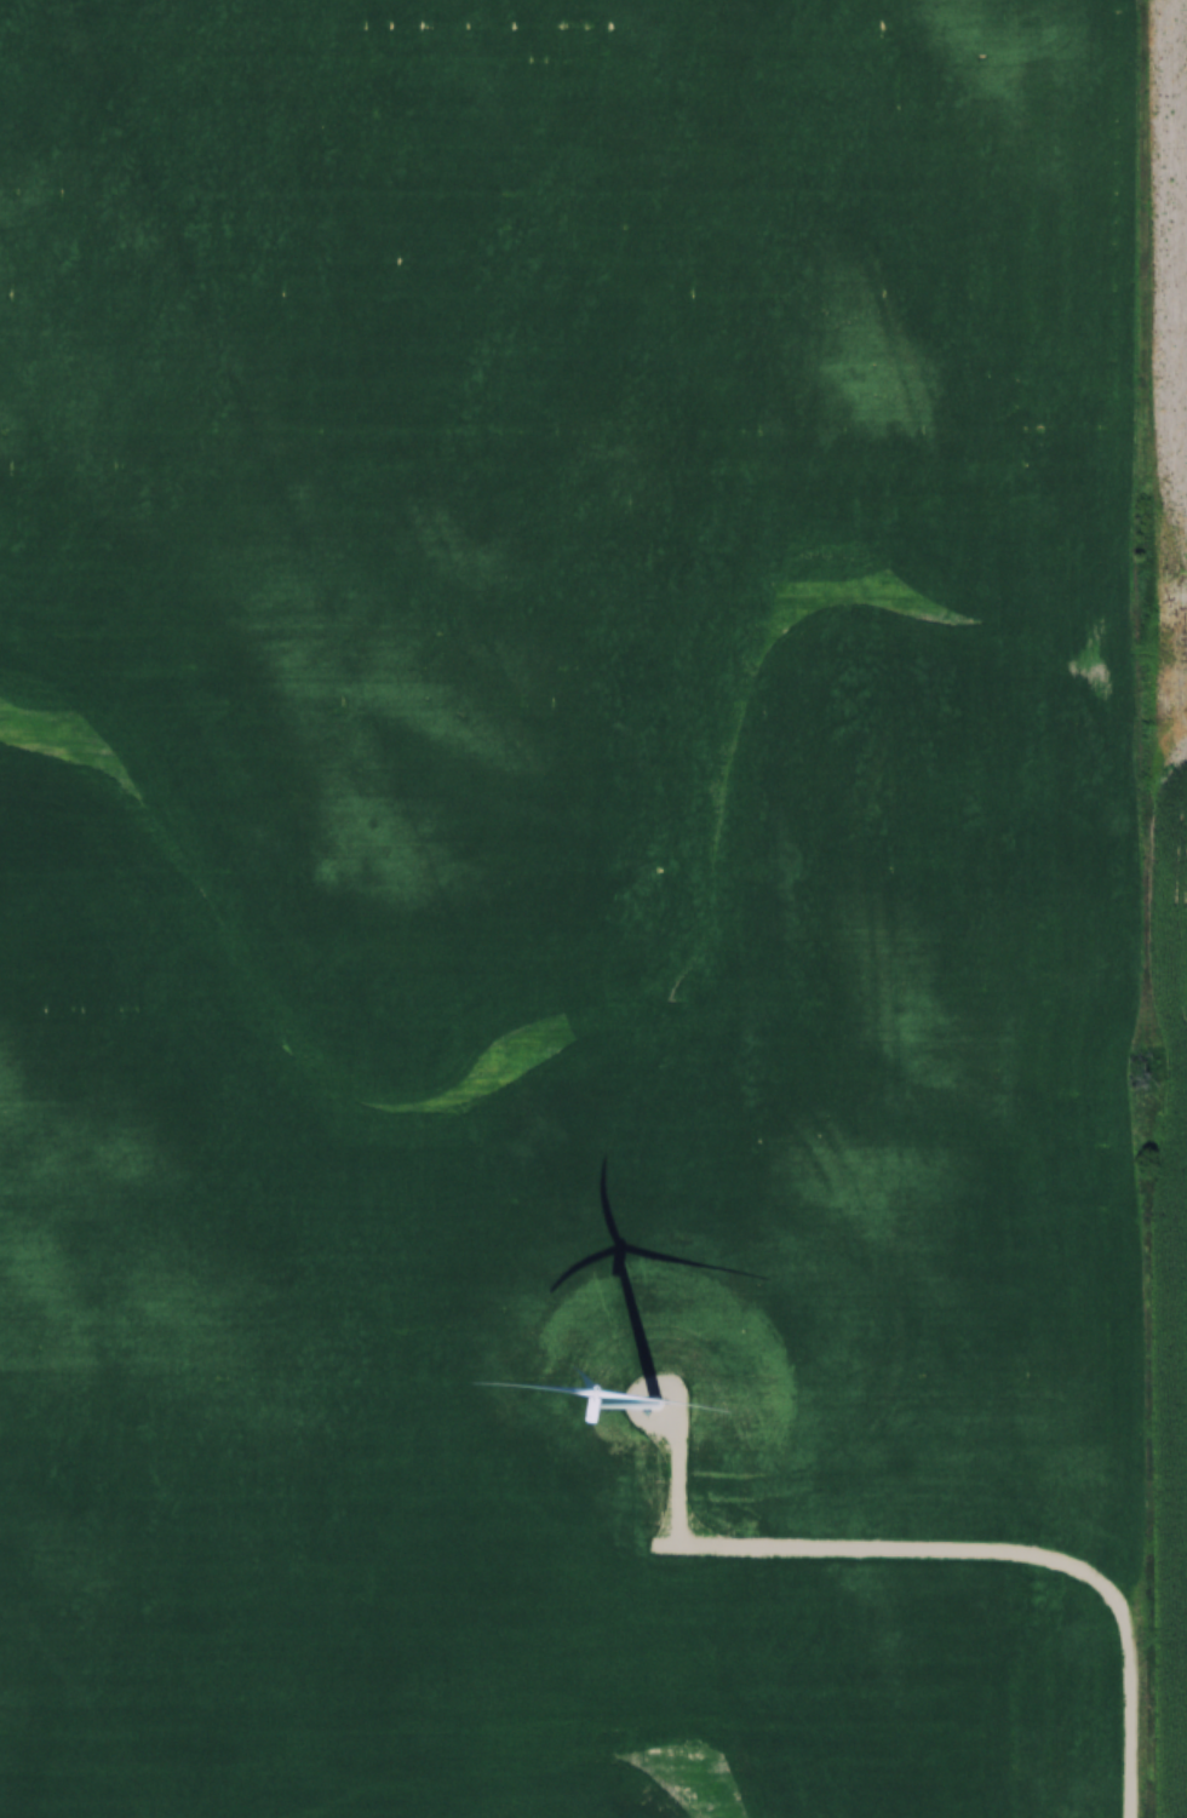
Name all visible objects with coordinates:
wind turbine: (658, 1410)
road: (959, 1550)

